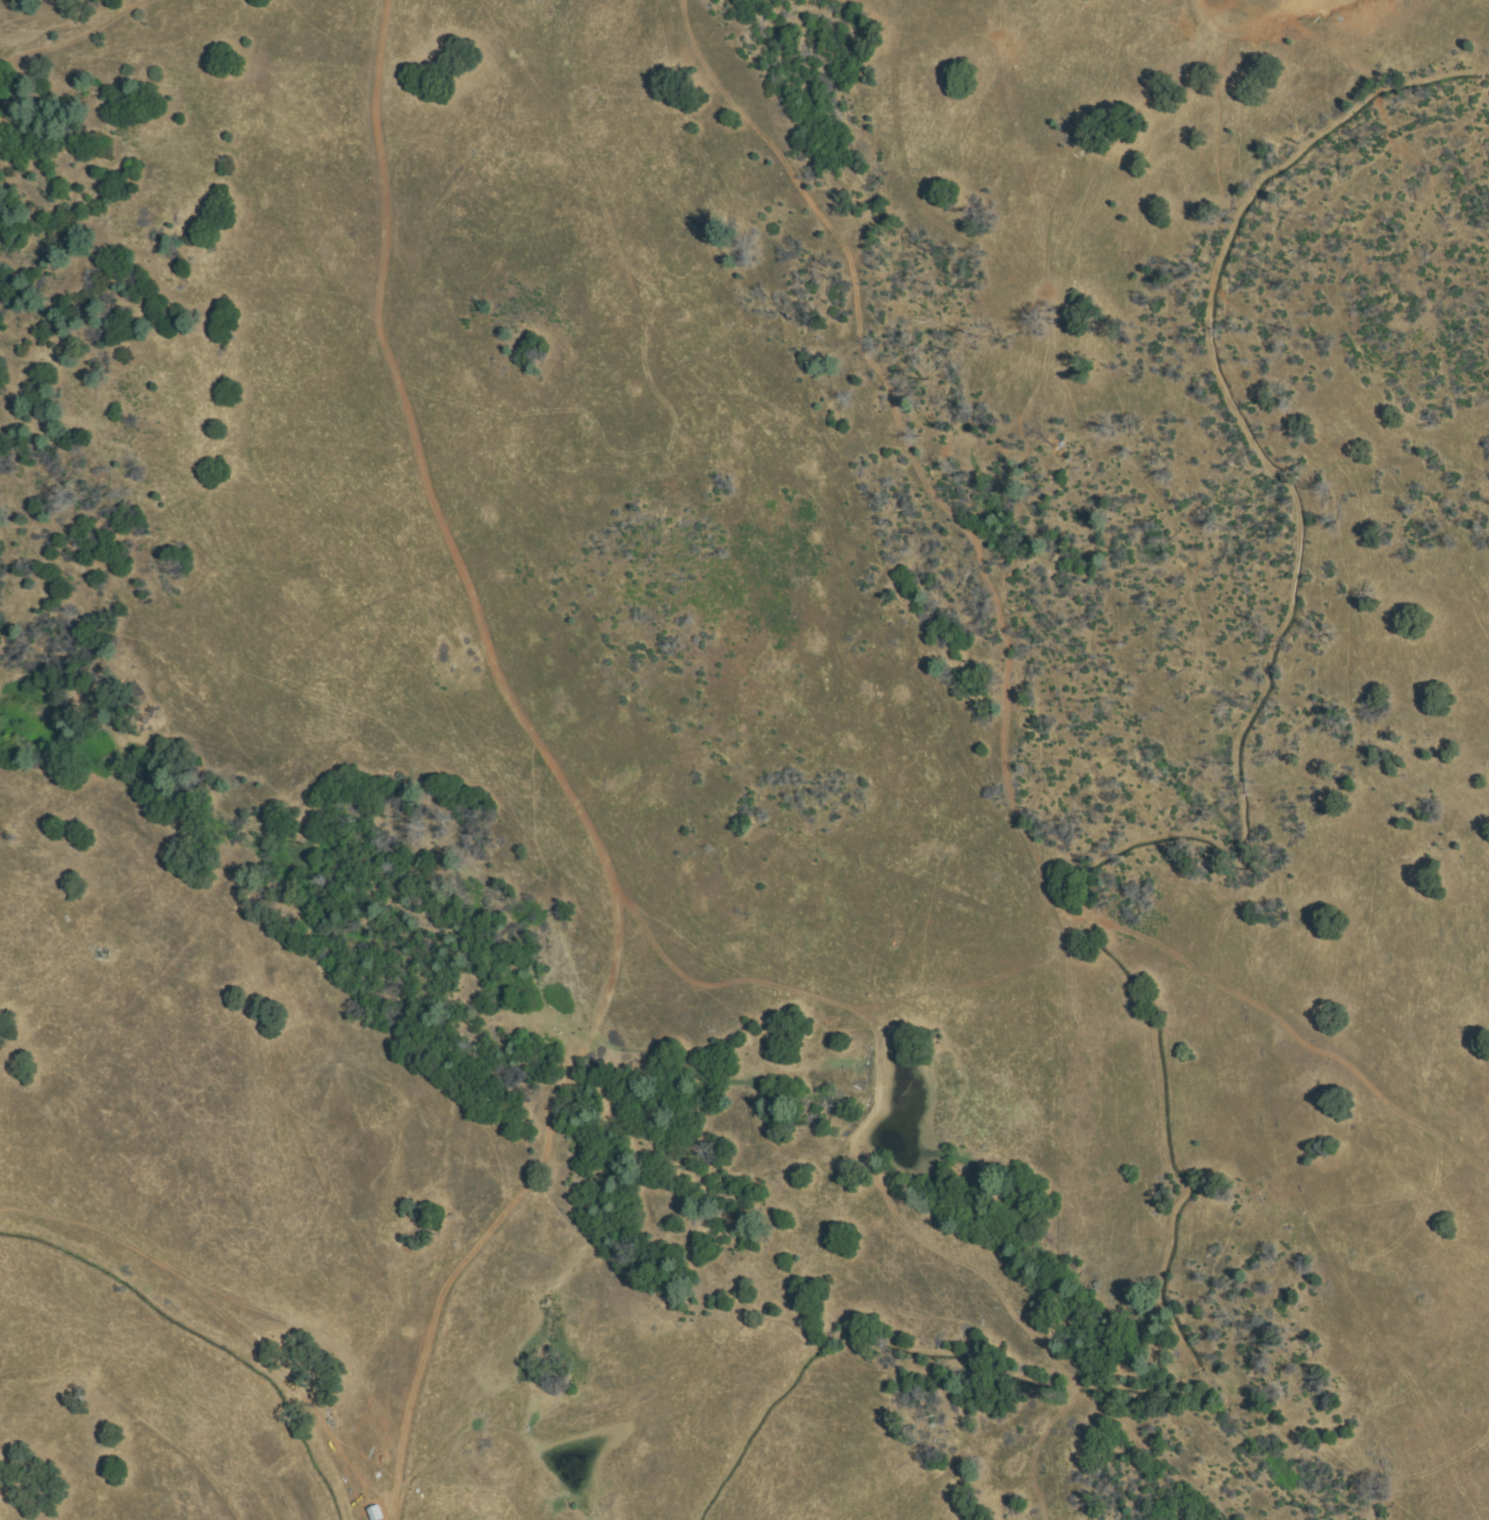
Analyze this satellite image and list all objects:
road: (554, 775)
building: (374, 1514)

